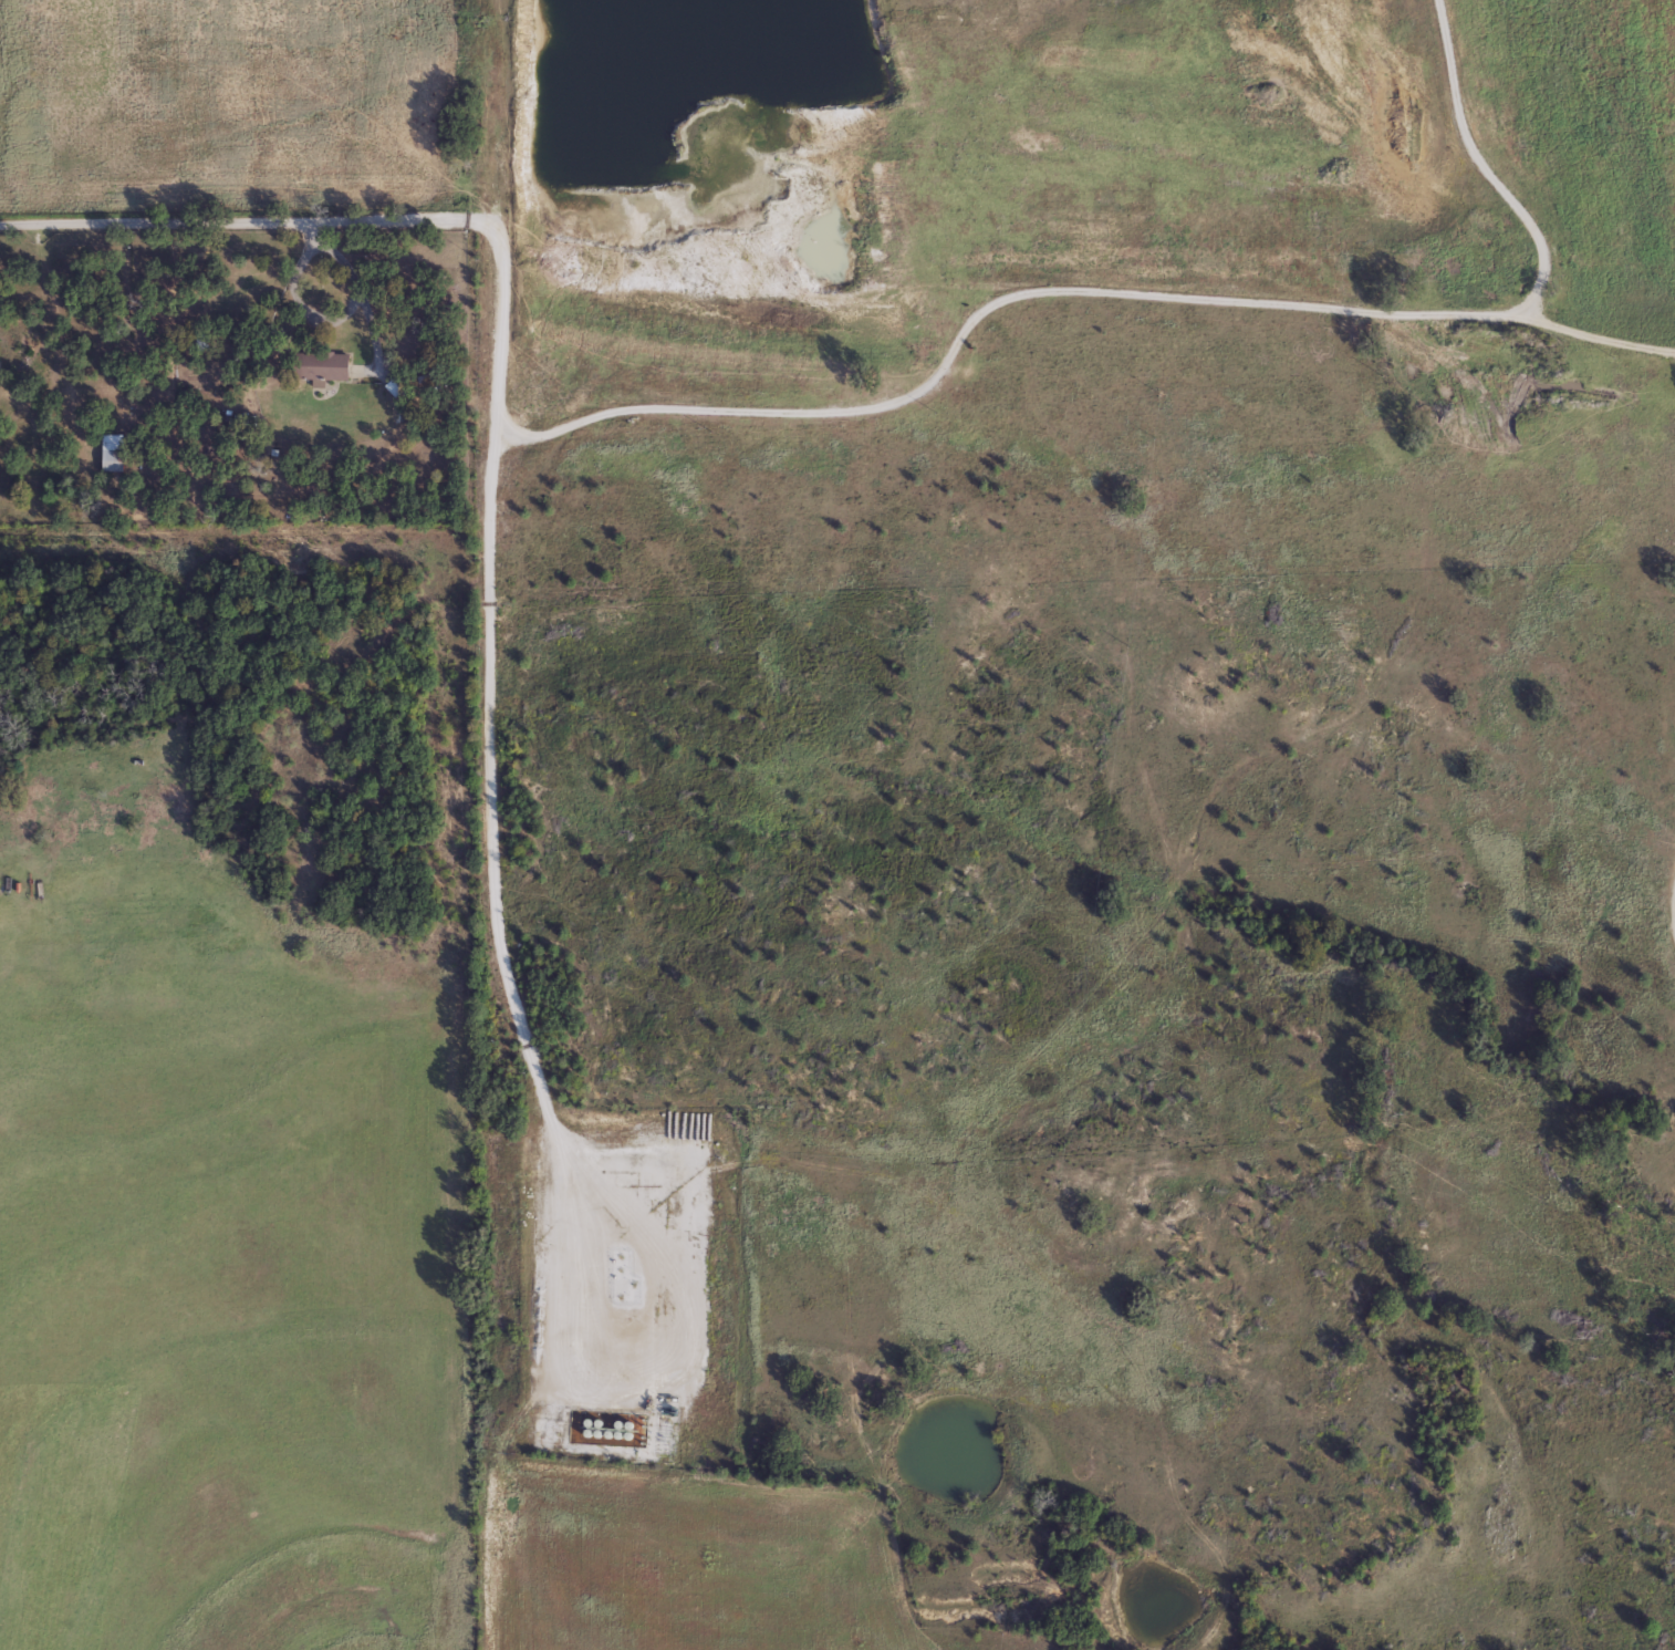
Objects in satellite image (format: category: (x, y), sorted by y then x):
road: (1482, 175)
road: (836, 287)
road: (501, 338)
building: (319, 364)
road: (767, 408)
building: (111, 459)
road: (491, 795)

